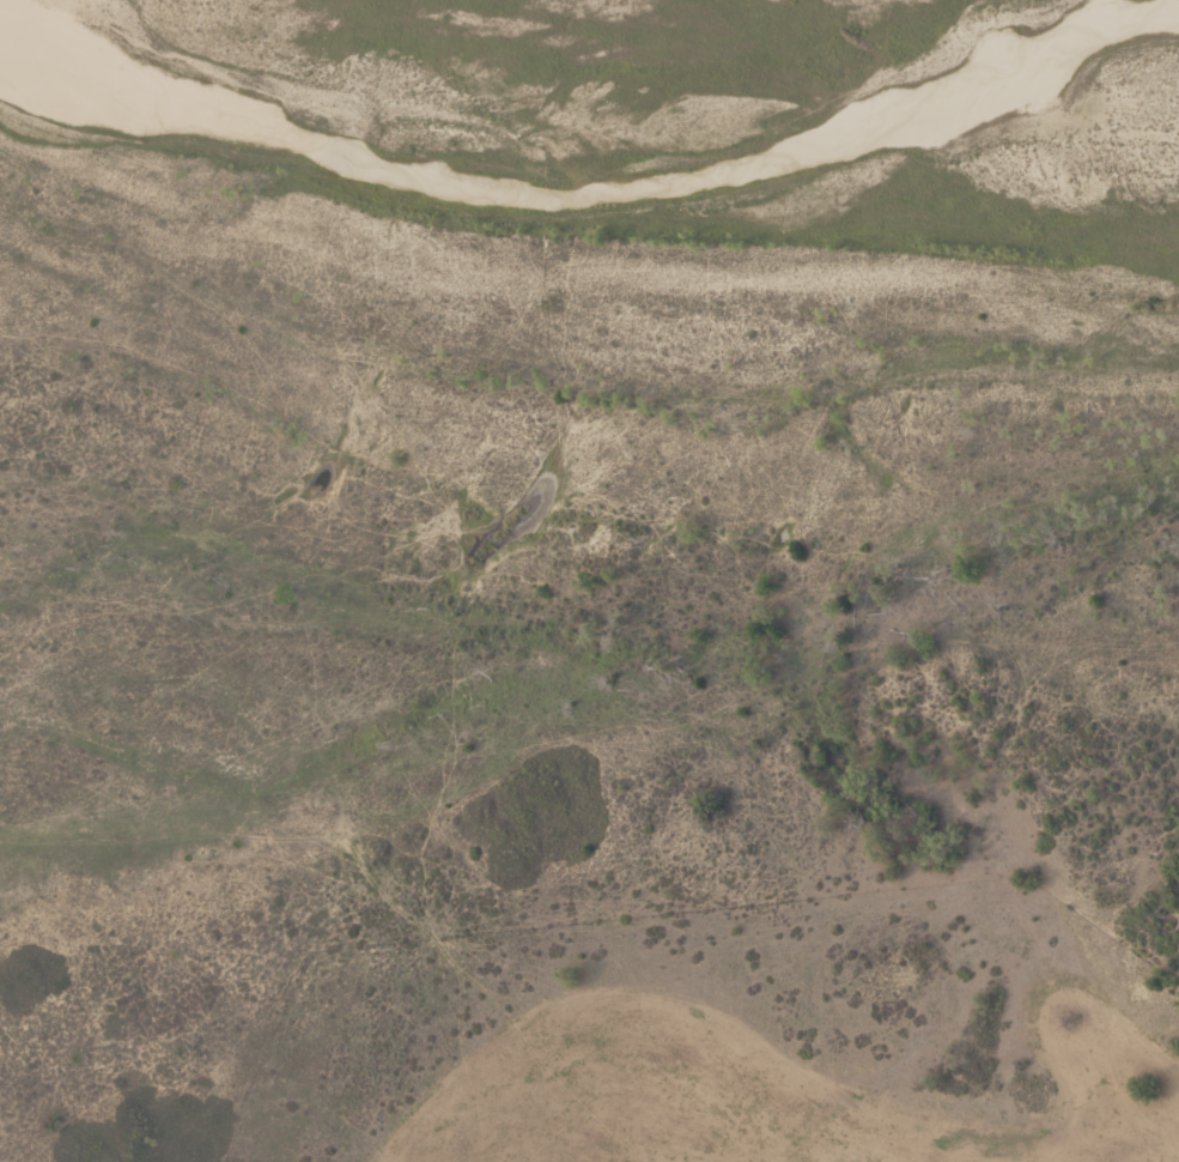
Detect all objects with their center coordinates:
river: (596, 176)

